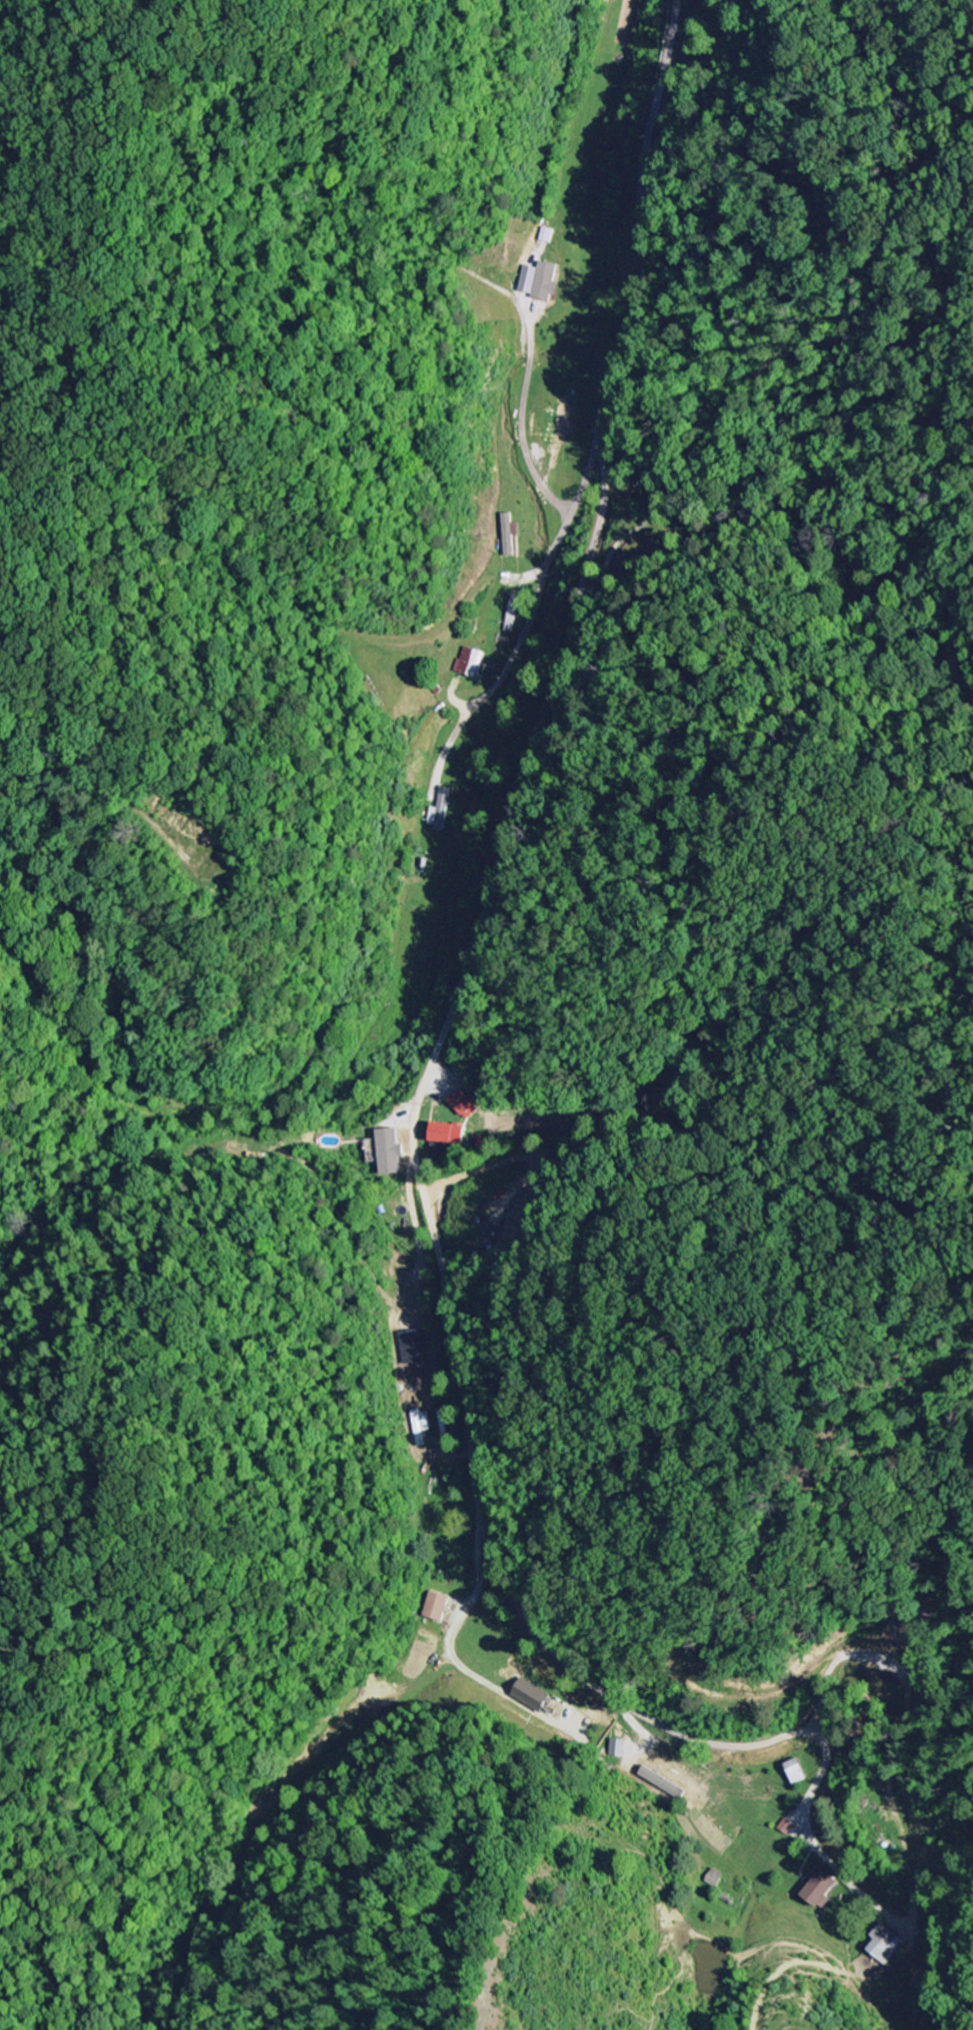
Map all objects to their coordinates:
building: (549, 236)
building: (541, 281)
building: (509, 535)
road: (537, 589)
road: (588, 596)
building: (473, 663)
building: (439, 812)
road: (465, 959)
building: (464, 1104)
building: (452, 1135)
building: (393, 1153)
building: (438, 1607)
building: (534, 1695)
building: (631, 1765)
building: (798, 1772)
building: (659, 1779)
building: (790, 1827)
building: (821, 1888)
building: (888, 1945)

